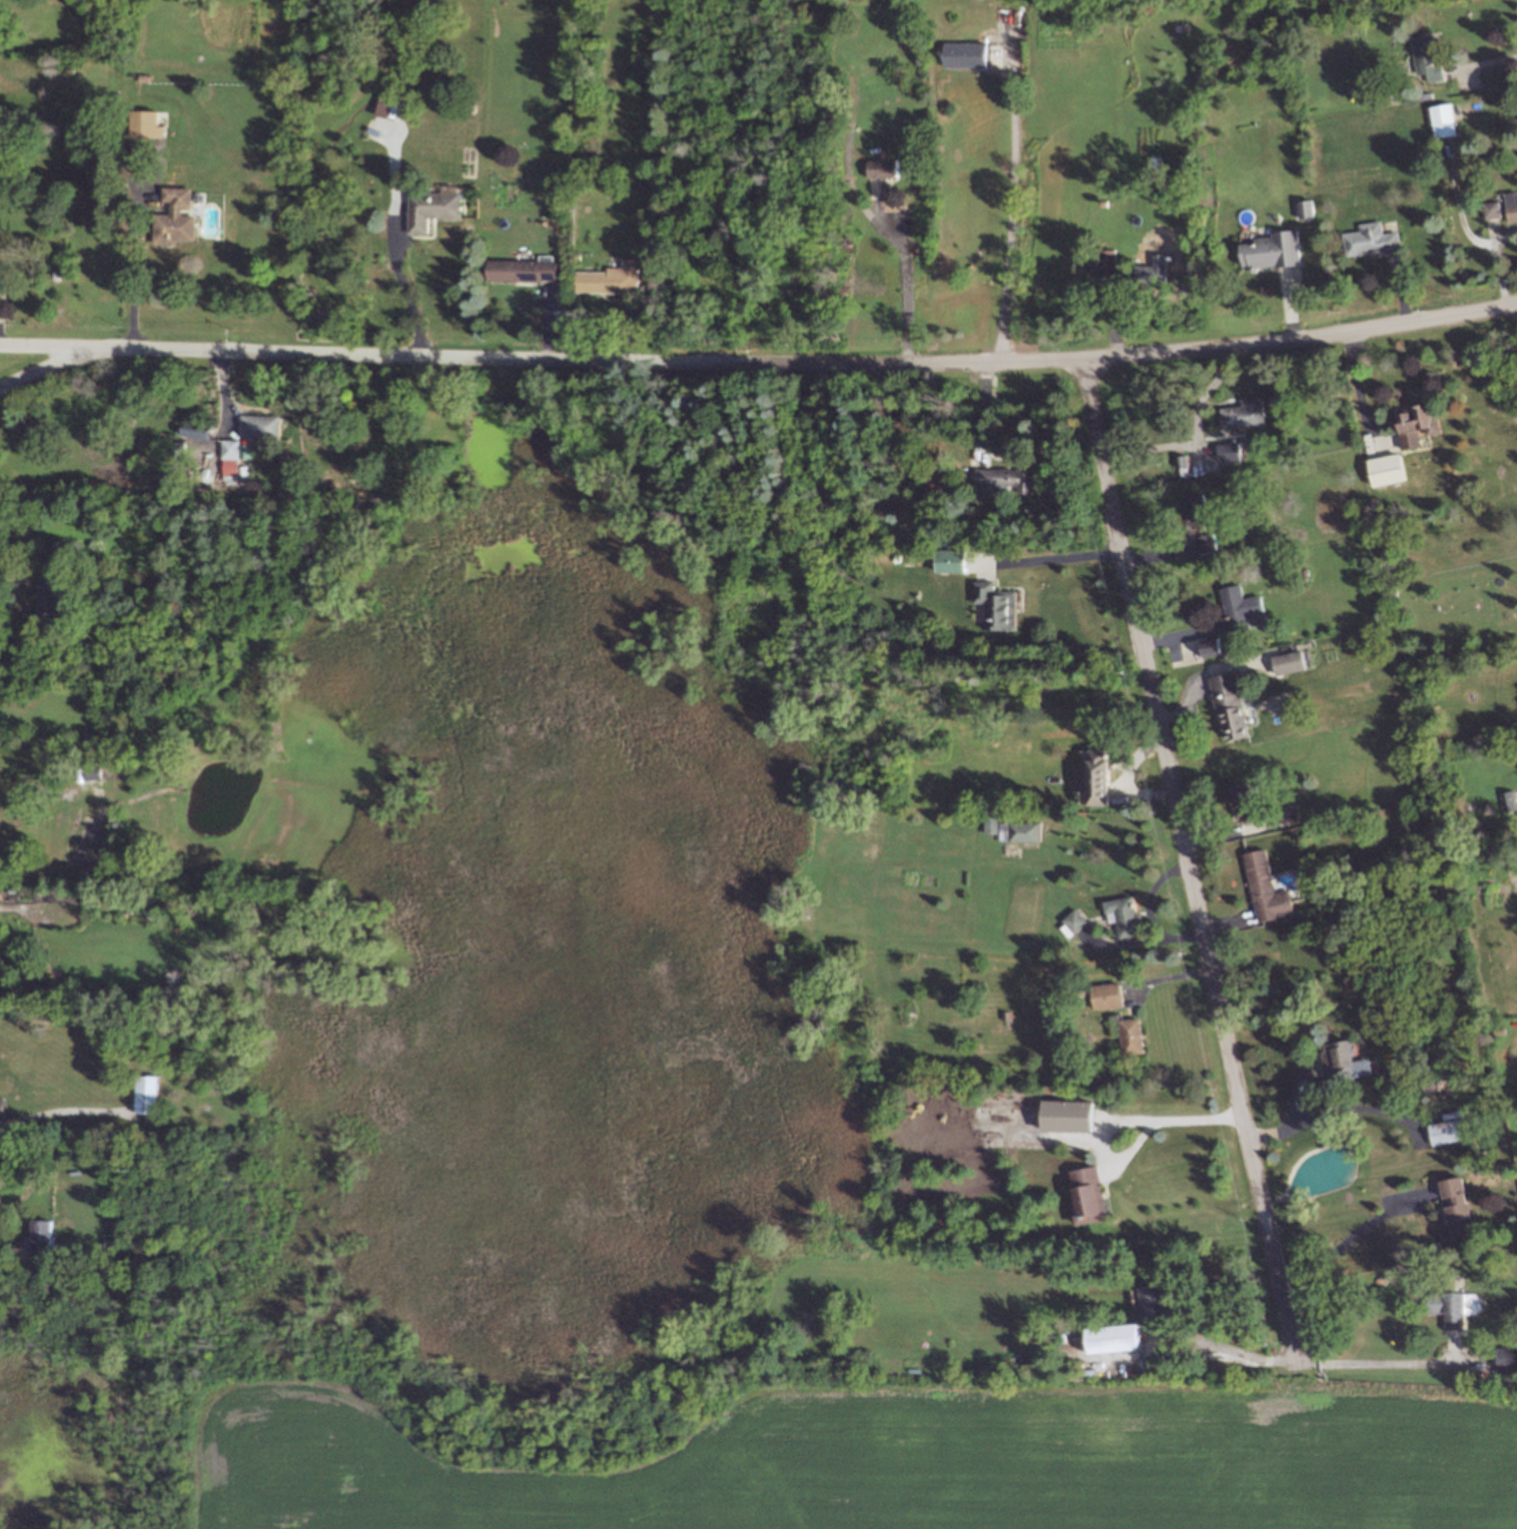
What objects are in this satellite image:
building: (965, 54)
building: (1427, 55)
road: (1486, 62)
building: (1444, 119)
building: (147, 124)
building: (883, 168)
building: (1512, 206)
building: (433, 208)
building: (1305, 208)
building: (1492, 209)
building: (175, 217)
road: (1010, 223)
building: (1373, 239)
building: (1274, 250)
building: (1106, 262)
building: (524, 269)
building: (1150, 273)
building: (613, 278)
building: (4, 281)
road: (130, 284)
road: (408, 290)
road: (908, 295)
road: (51, 345)
road: (755, 360)
building: (1245, 412)
building: (1419, 421)
building: (263, 425)
road: (1198, 437)
building: (234, 460)
building: (1387, 470)
building: (1007, 477)
building: (1196, 507)
building: (1205, 540)
road: (1060, 556)
building: (951, 560)
road: (4, 579)
building: (53, 591)
building: (996, 605)
building: (1239, 605)
building: (1211, 645)
building: (1289, 659)
building: (1230, 702)
building: (92, 772)
building: (1100, 776)
building: (1511, 800)
building: (1241, 801)
building: (991, 824)
building: (1019, 831)
road: (1191, 861)
building: (1267, 888)
building: (1125, 914)
building: (1073, 922)
building: (1107, 995)
building: (1132, 1035)
building: (1343, 1060)
building: (149, 1094)
building: (1, 1105)
road: (60, 1108)
building: (1069, 1115)
road: (1183, 1119)
building: (1446, 1131)
building: (1089, 1195)
building: (1457, 1205)
road: (1352, 1231)
building: (42, 1234)
road: (5, 1247)
building: (1152, 1301)
building: (1448, 1307)
building: (1112, 1339)
road: (1235, 1351)
building: (1507, 1356)
road: (1375, 1363)
crop: (892, 1462)

